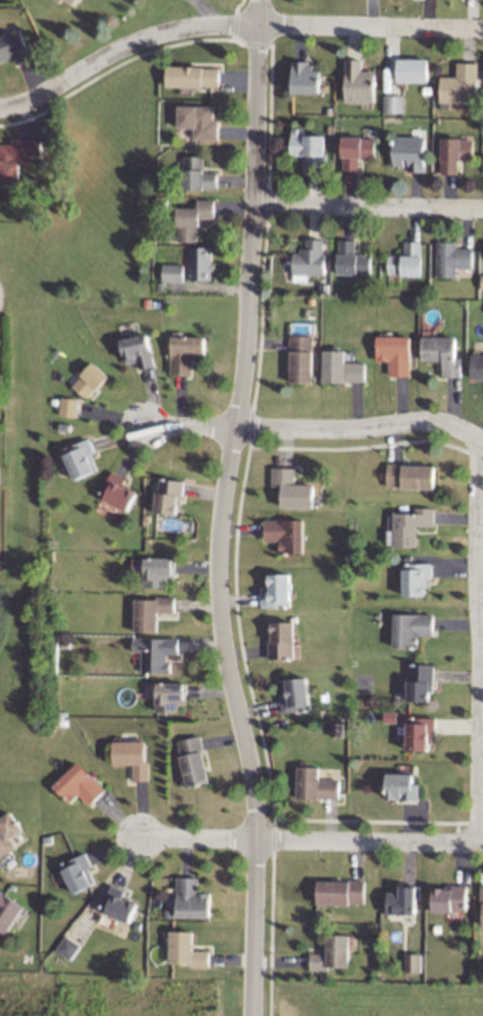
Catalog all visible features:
building: (67, 2)
road: (202, 13)
road: (232, 25)
building: (13, 46)
building: (413, 70)
building: (191, 76)
building: (305, 77)
building: (359, 82)
building: (461, 84)
building: (394, 103)
building: (198, 120)
building: (309, 148)
building: (356, 151)
building: (410, 152)
building: (455, 152)
building: (16, 155)
building: (198, 174)
road: (370, 207)
building: (192, 219)
building: (352, 258)
building: (452, 258)
building: (309, 260)
building: (407, 260)
building: (200, 263)
building: (173, 272)
building: (482, 281)
building: (137, 350)
building: (185, 352)
building: (394, 353)
building: (442, 353)
building: (301, 358)
building: (476, 366)
building: (341, 367)
building: (89, 380)
building: (68, 406)
road: (316, 430)
building: (80, 458)
building: (409, 475)
building: (292, 488)
building: (117, 491)
building: (168, 495)
road: (222, 508)
building: (408, 526)
building: (286, 534)
building: (158, 571)
building: (415, 578)
building: (277, 591)
building: (149, 611)
building: (411, 628)
building: (282, 639)
road: (481, 640)
building: (154, 652)
building: (420, 681)
building: (295, 694)
building: (169, 696)
building: (336, 728)
building: (419, 732)
building: (131, 756)
building: (192, 761)
building: (315, 784)
building: (78, 785)
building: (401, 786)
building: (8, 833)
road: (311, 839)
building: (78, 872)
building: (340, 892)
building: (191, 898)
building: (450, 898)
building: (402, 900)
building: (118, 904)
building: (482, 907)
building: (8, 911)
road: (270, 932)
building: (68, 947)
building: (185, 949)
building: (333, 953)
building: (412, 962)

